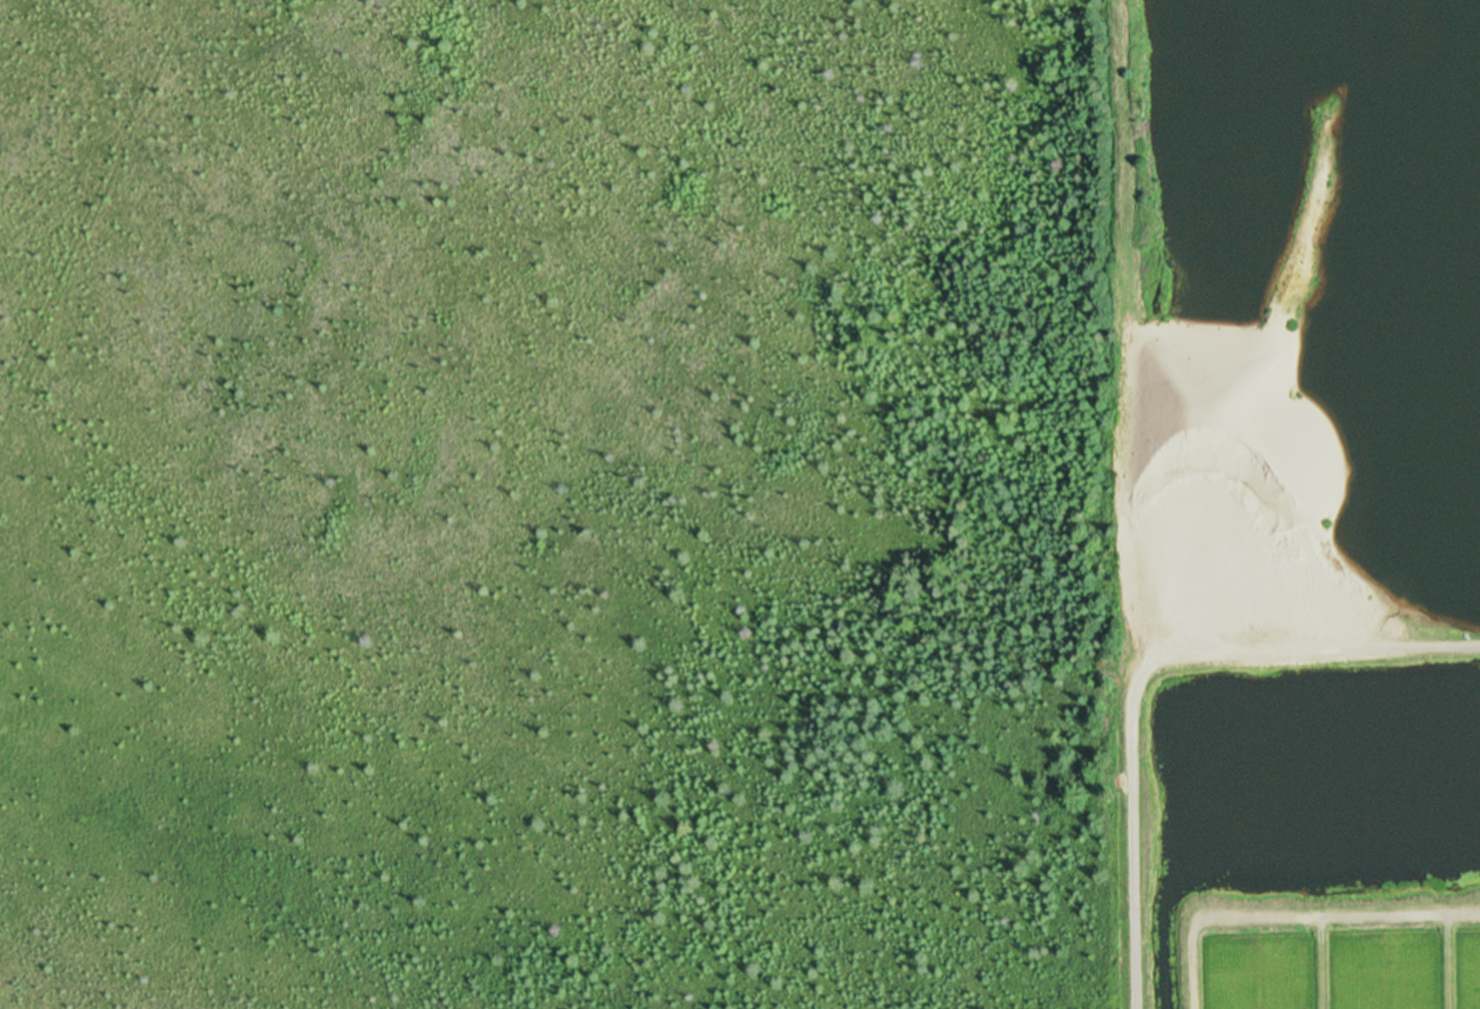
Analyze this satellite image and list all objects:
crop: (1294, 954)

